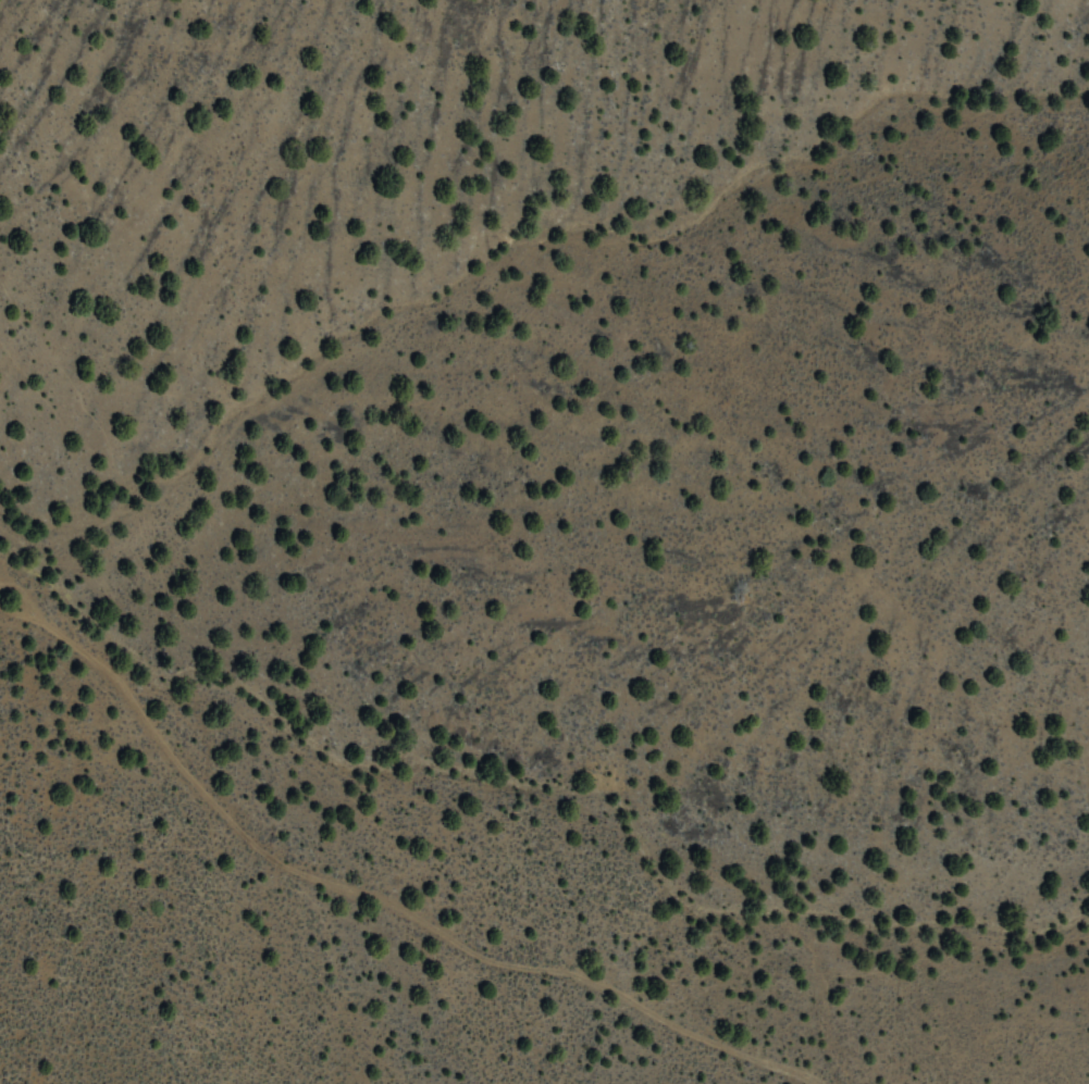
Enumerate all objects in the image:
road: (372, 898)

